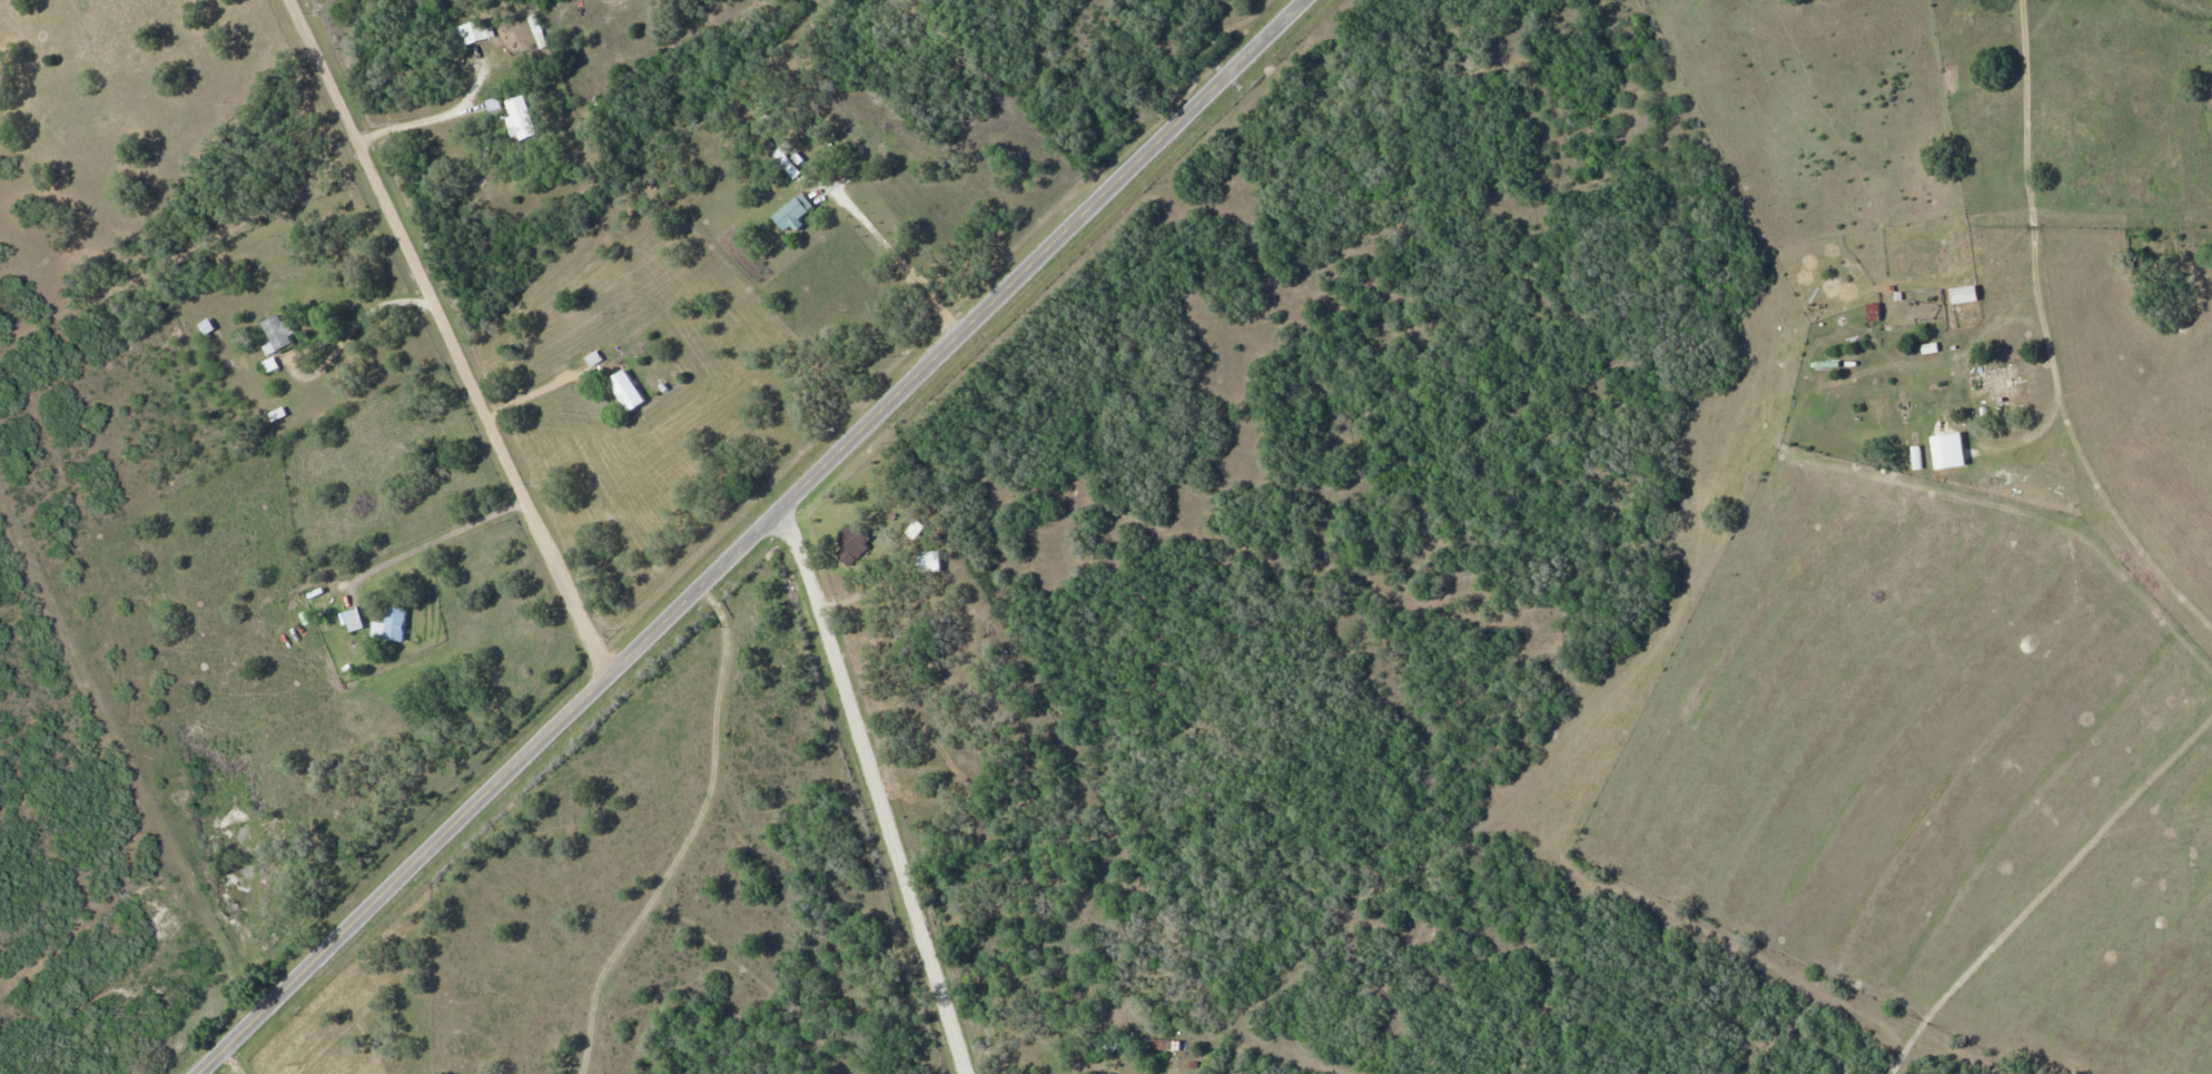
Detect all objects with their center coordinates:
building: (537, 31)
building: (473, 32)
building: (493, 104)
building: (520, 120)
building: (797, 159)
building: (787, 162)
building: (791, 213)
building: (1965, 294)
building: (1873, 316)
building: (207, 326)
building: (277, 334)
road: (447, 337)
road: (2046, 338)
building: (595, 357)
building: (271, 365)
building: (1997, 383)
building: (625, 390)
building: (587, 401)
building: (278, 414)
building: (1917, 457)
building: (916, 531)
road: (750, 533)
building: (850, 540)
building: (929, 562)
building: (316, 592)
building: (319, 600)
building: (305, 619)
building: (354, 620)
building: (395, 625)
road: (882, 782)
building: (1159, 1044)
road: (231, 1064)

